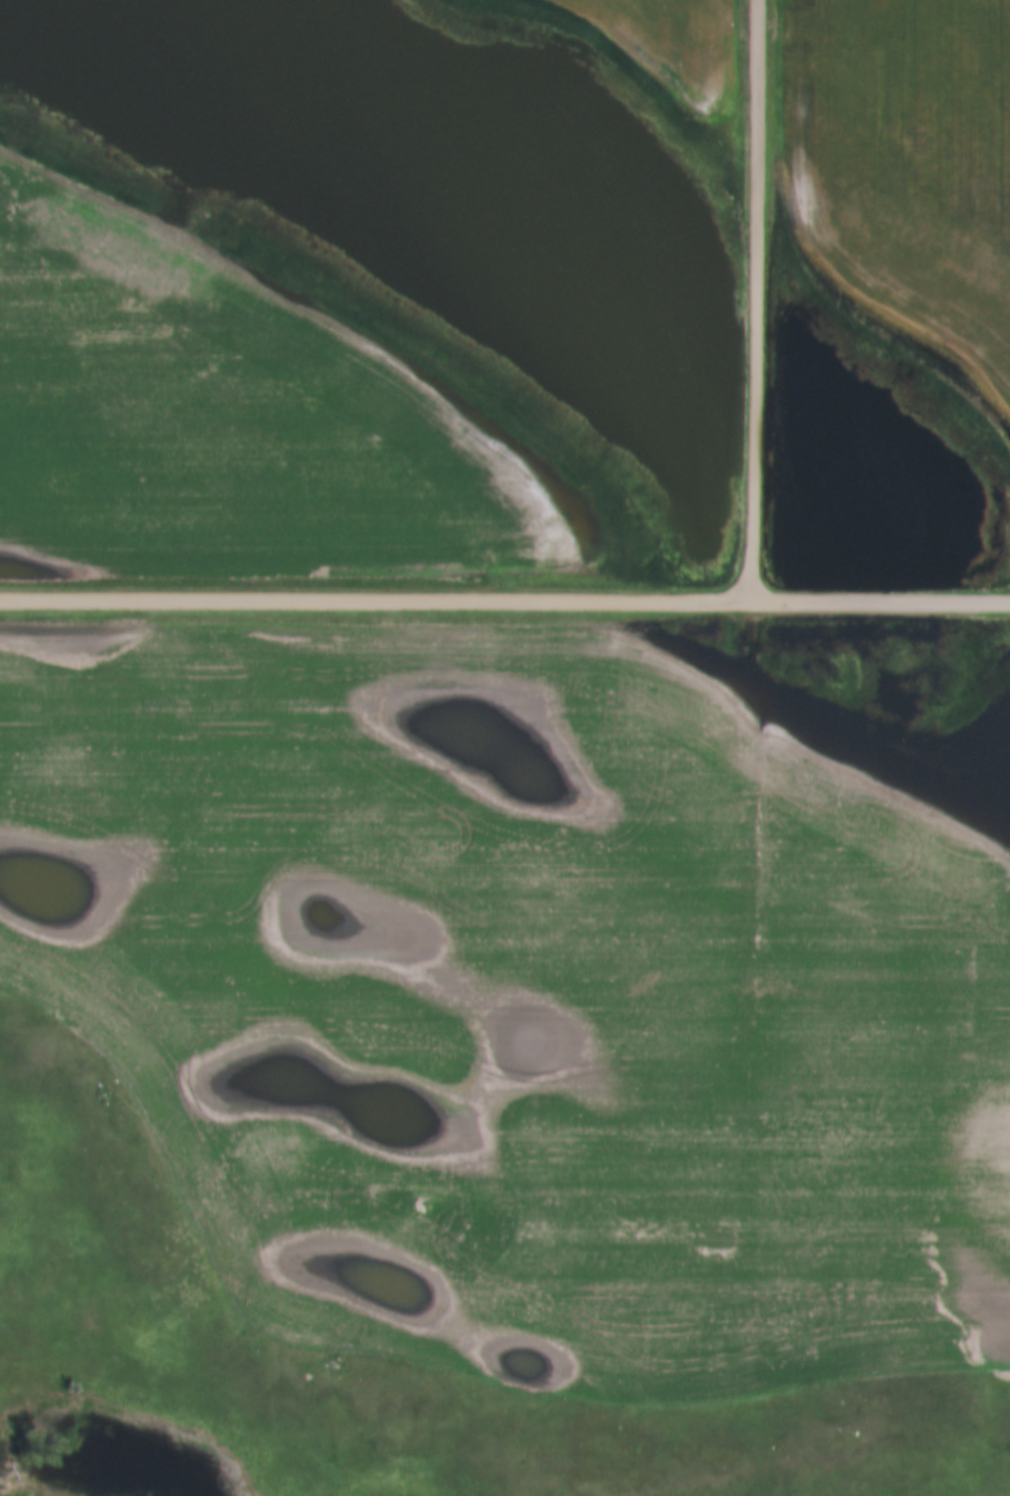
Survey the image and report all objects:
road: (754, 302)
road: (504, 604)

